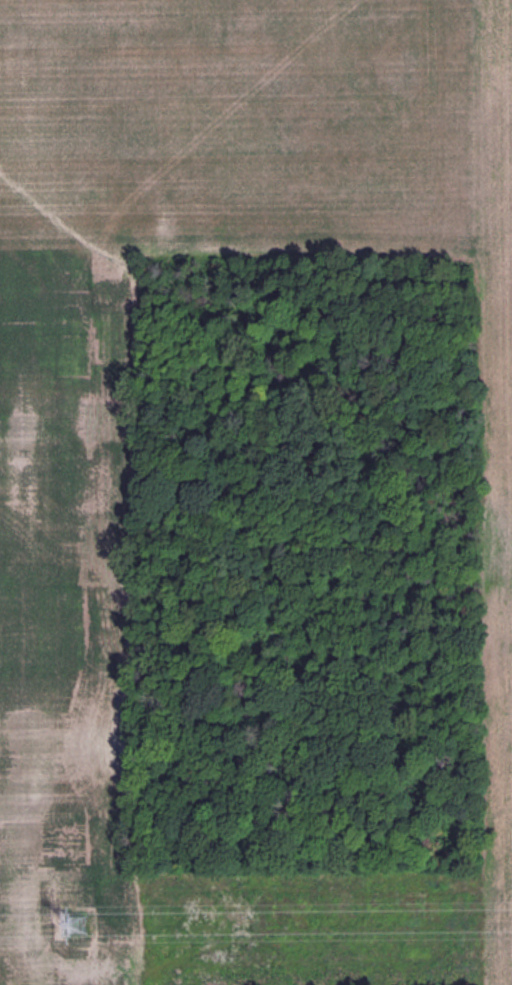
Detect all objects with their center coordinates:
power tower: (78, 927)

